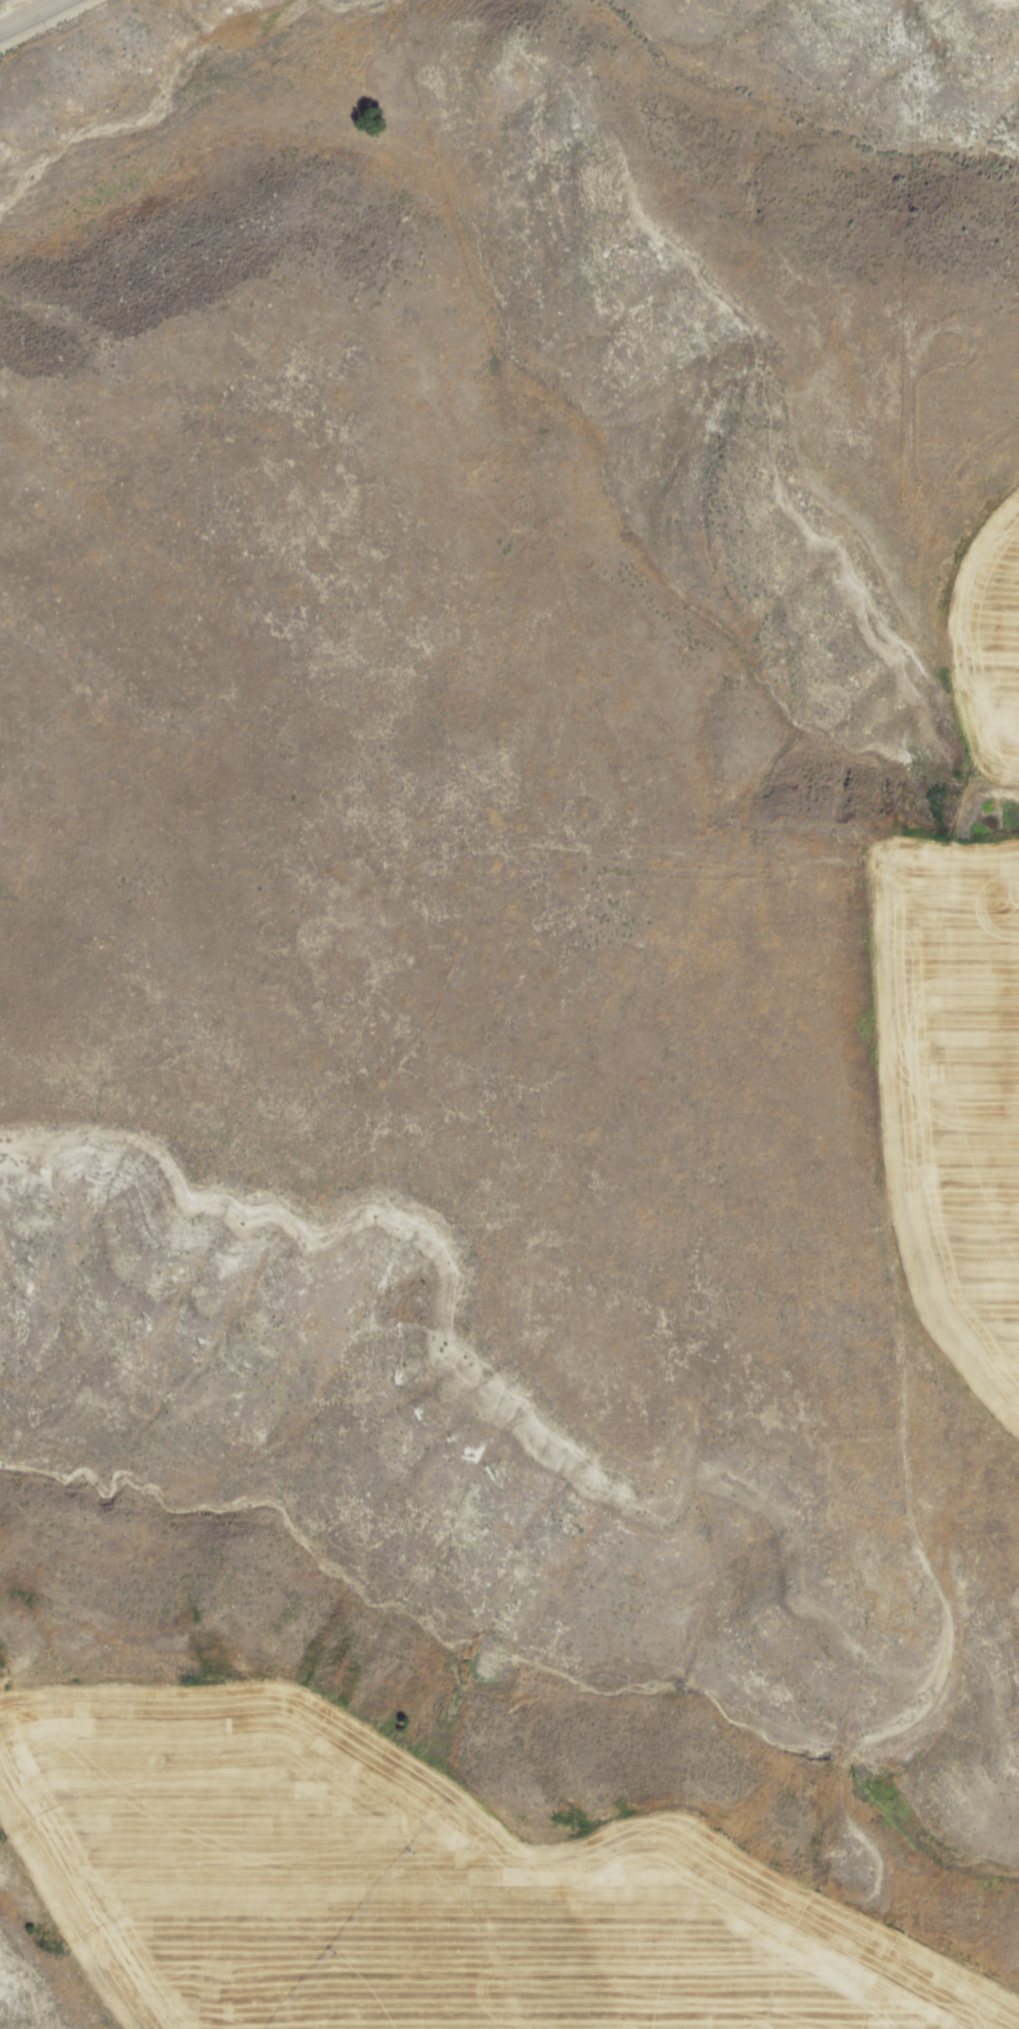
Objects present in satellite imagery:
road: (36, 19)

